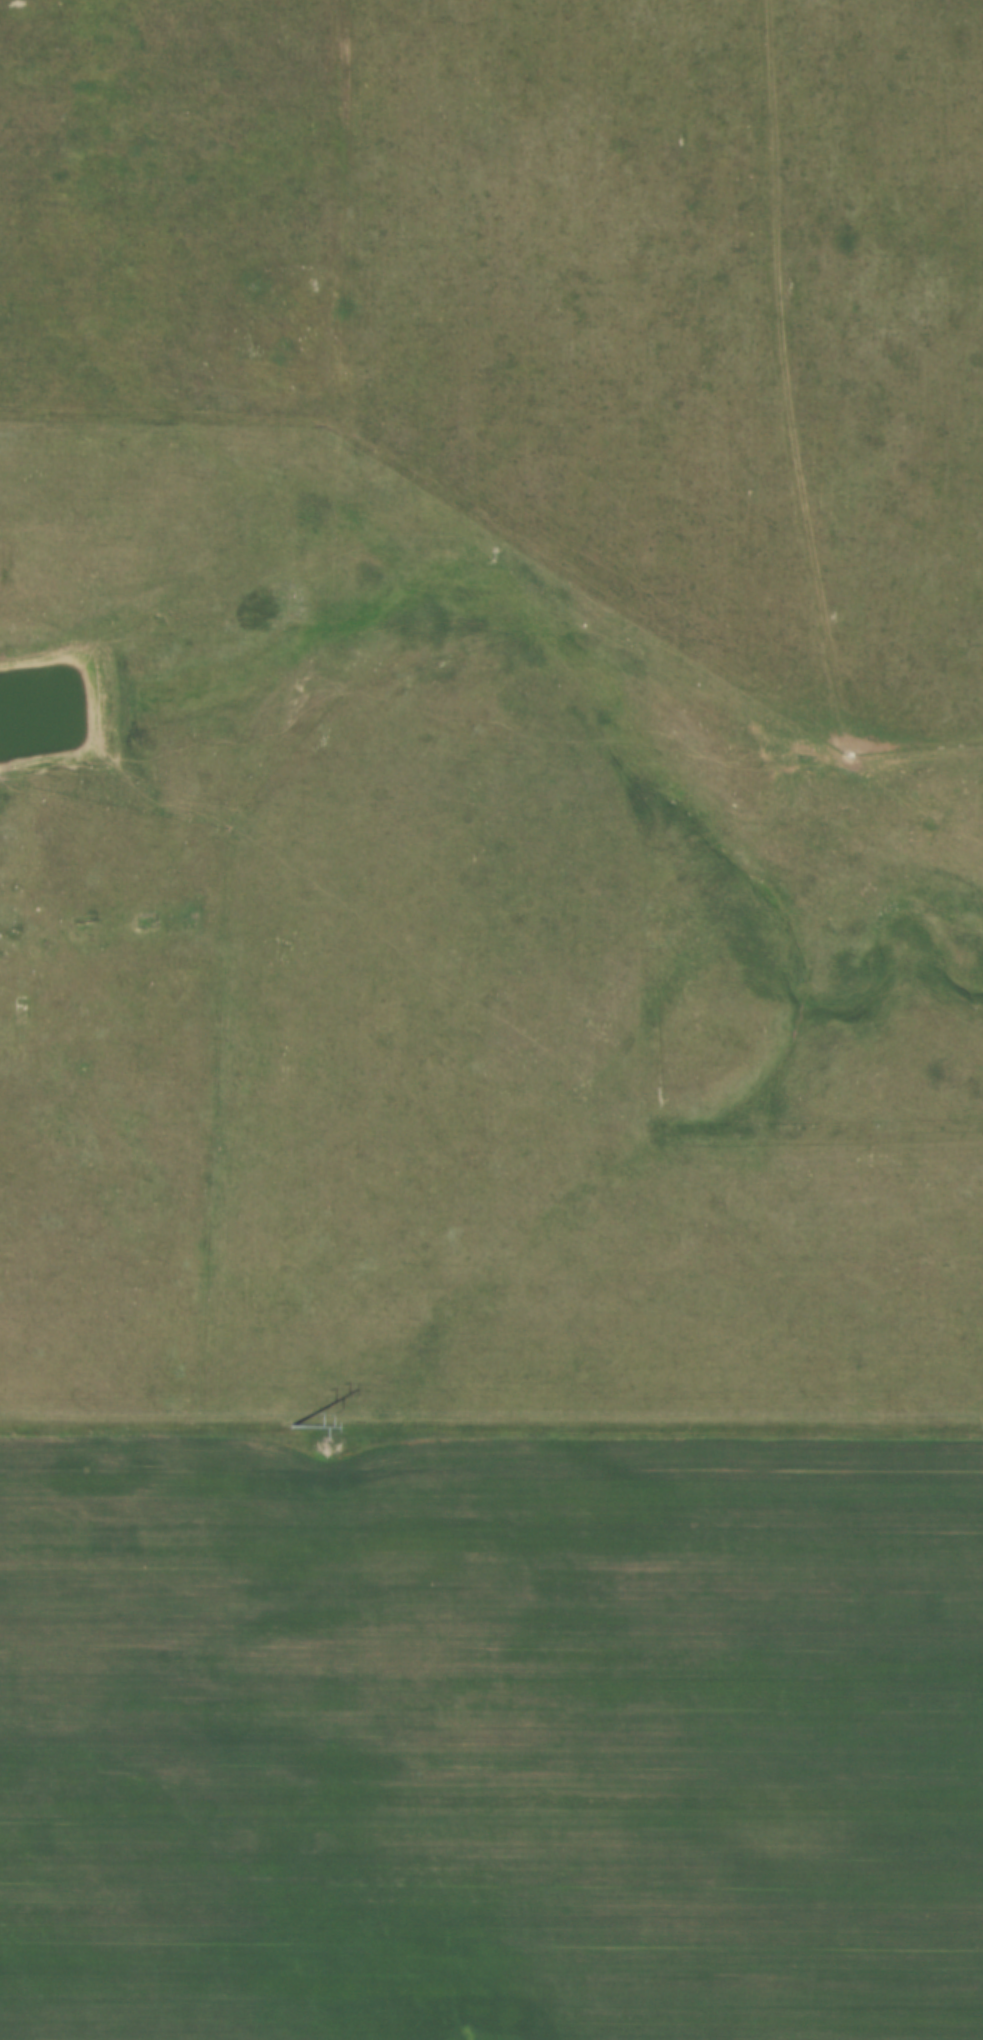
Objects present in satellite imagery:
power tower: (289, 1423)

